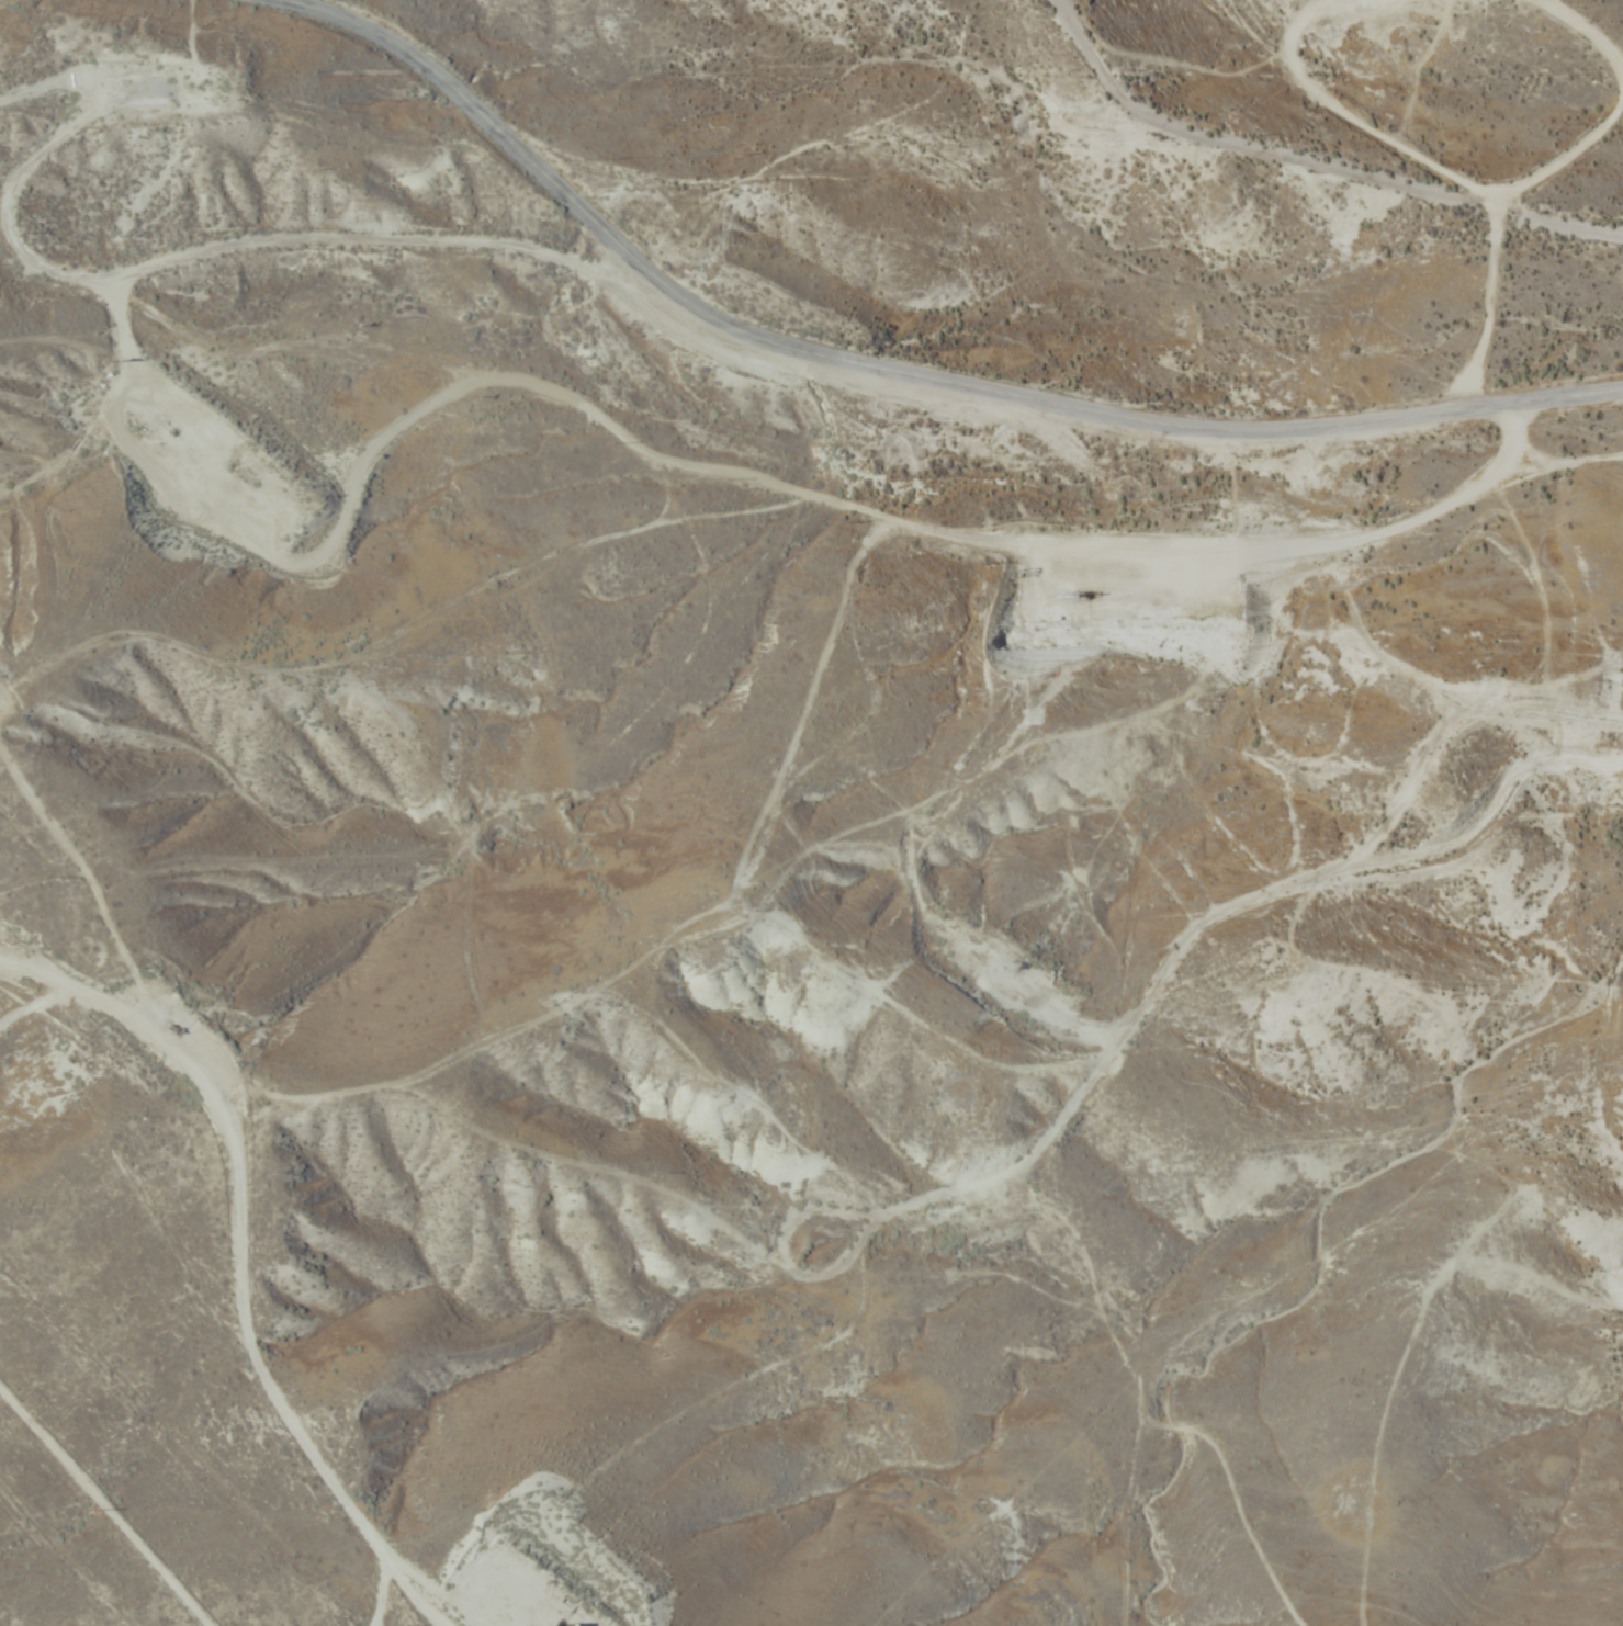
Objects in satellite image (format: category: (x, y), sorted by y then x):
petroleum well: (177, 91)
road: (1278, 184)
road: (901, 369)

